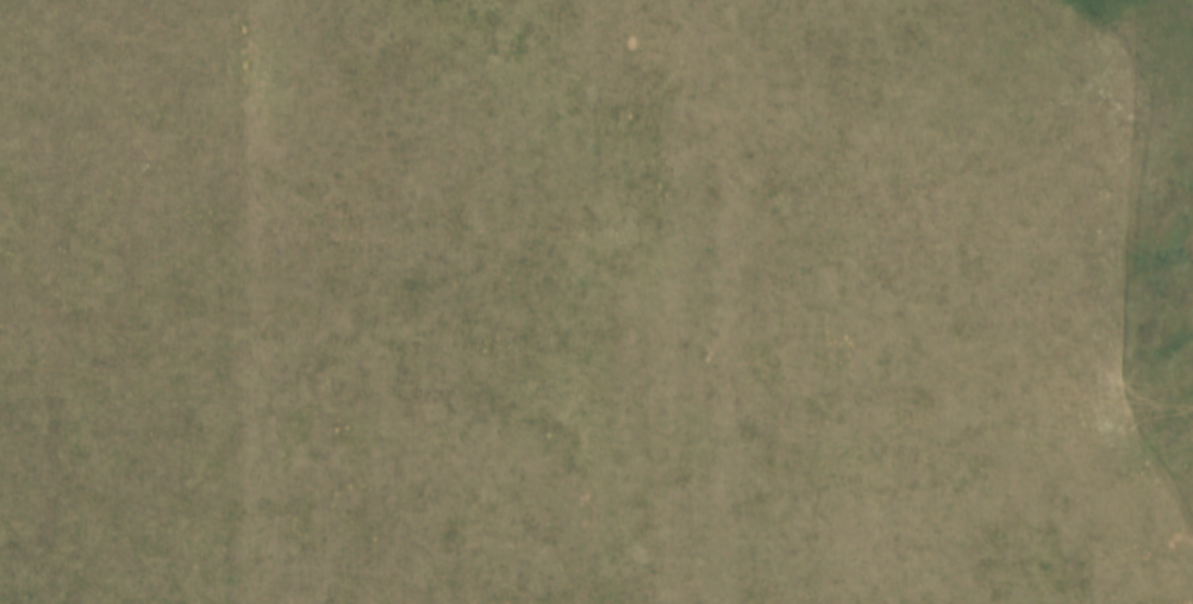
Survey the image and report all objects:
road: (1124, 284)

